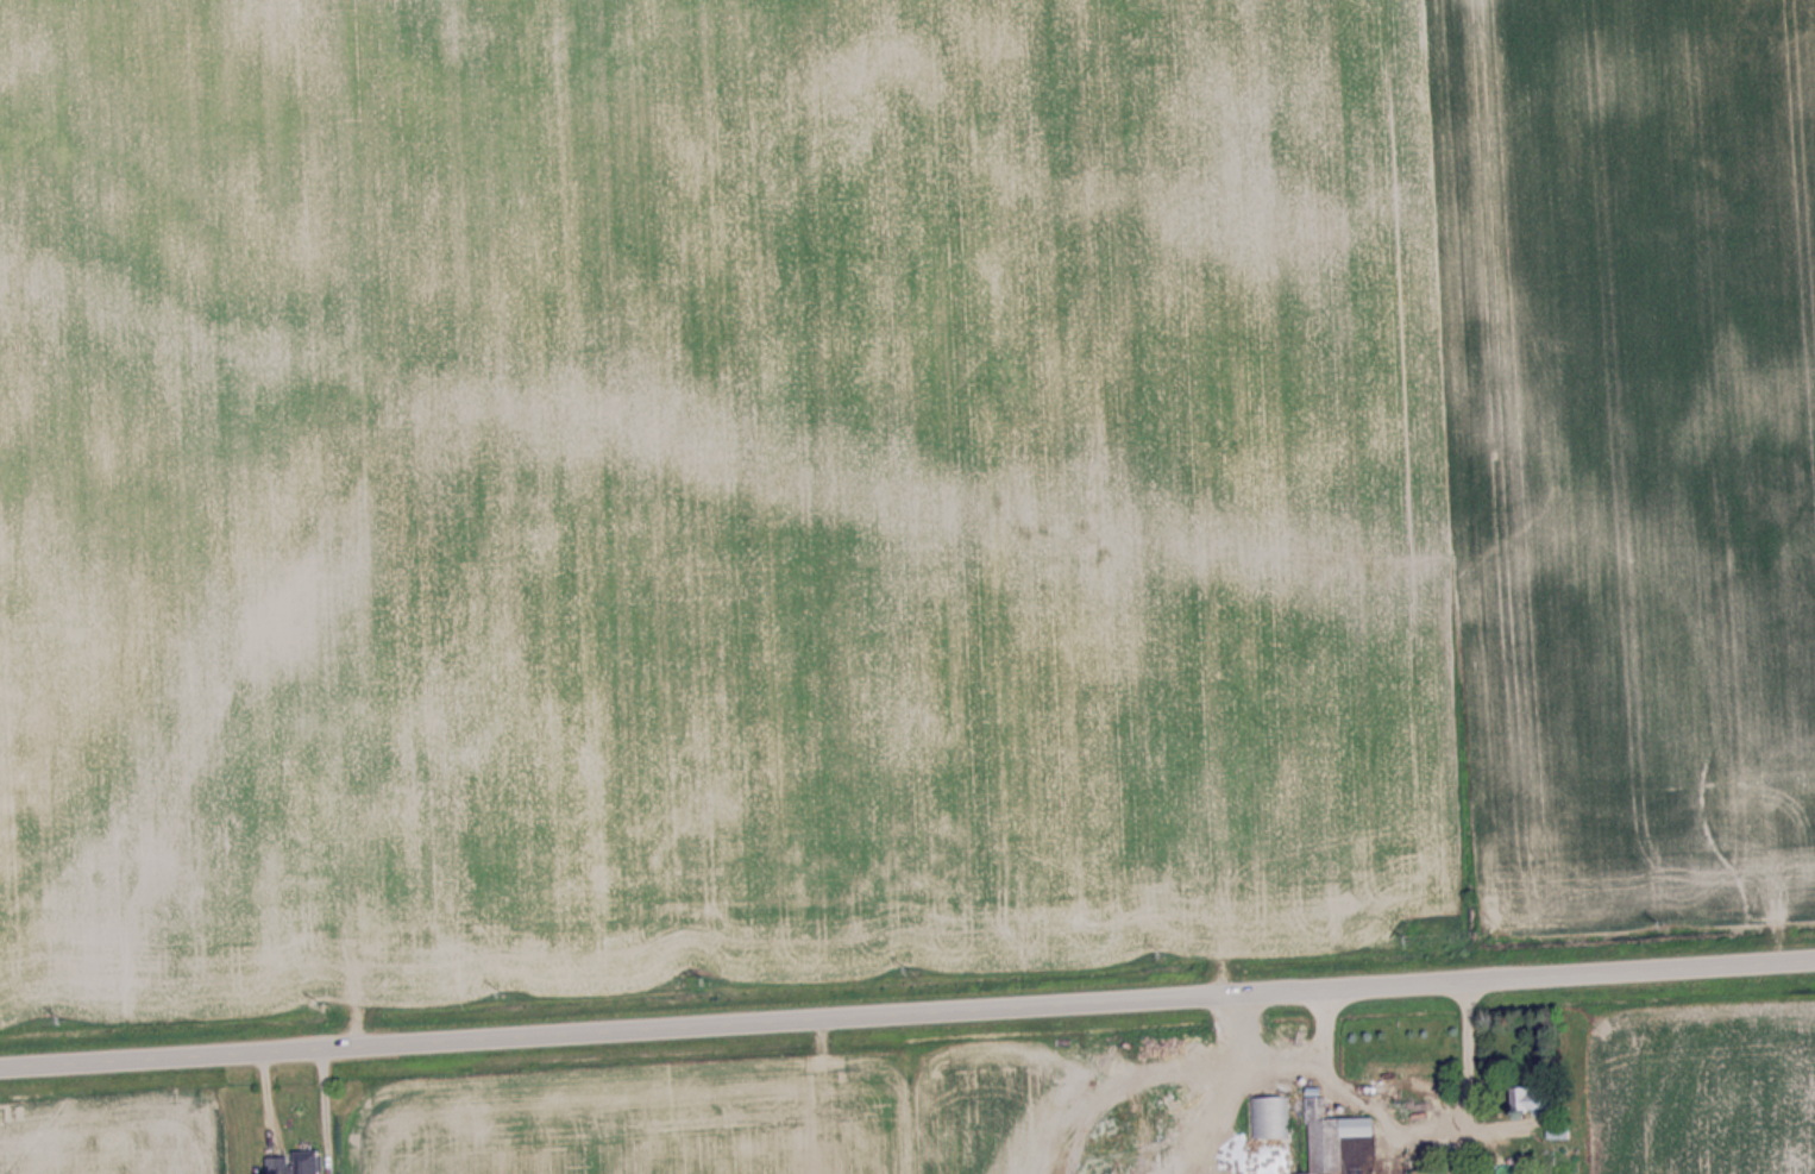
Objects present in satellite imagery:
road: (907, 1011)
building: (1156, 1054)
building: (1525, 1098)
building: (1552, 1131)
building: (1318, 1140)
building: (312, 1163)
building: (278, 1166)

